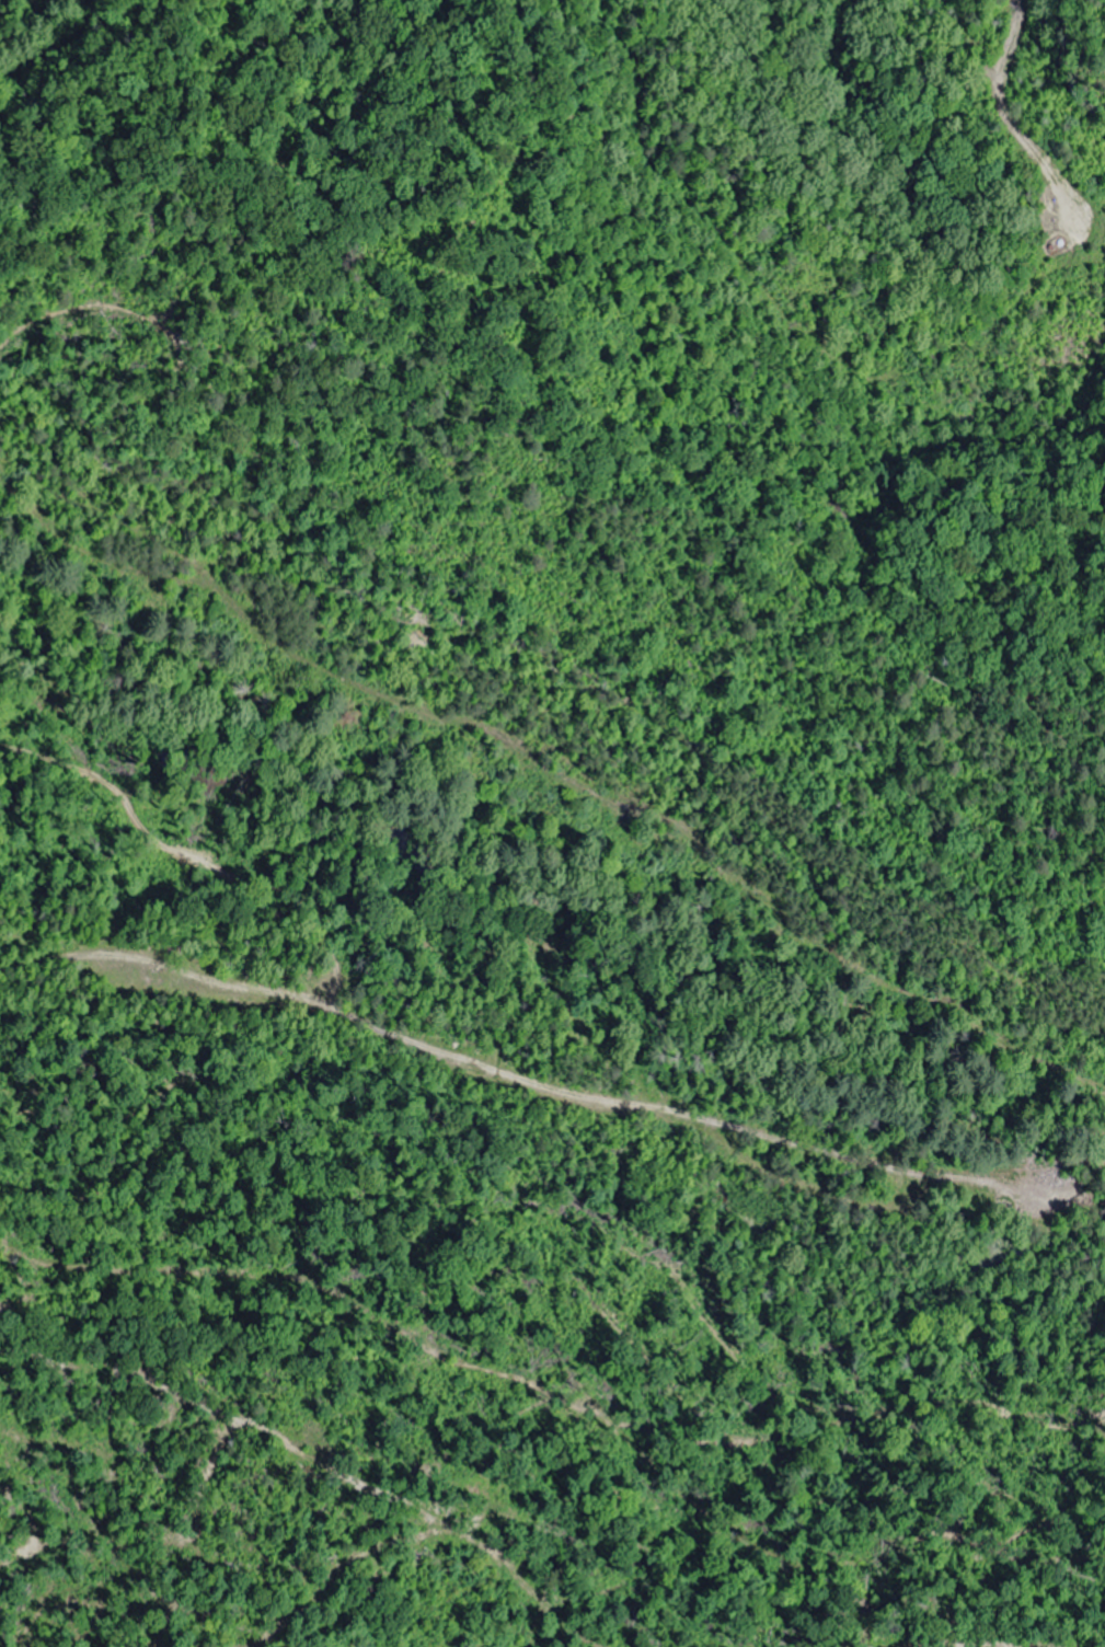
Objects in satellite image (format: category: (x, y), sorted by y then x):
road: (356, 477)

